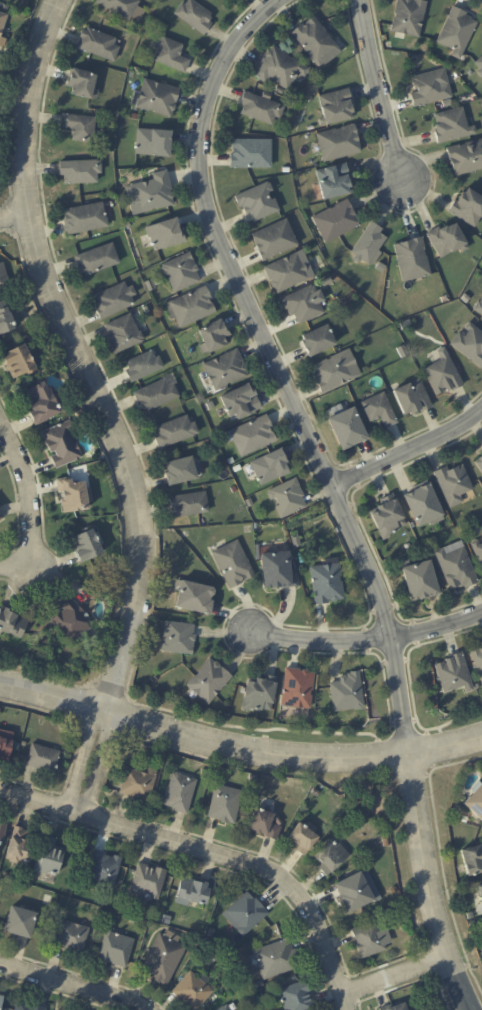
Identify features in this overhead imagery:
building: (120, 7)
building: (195, 17)
building: (410, 17)
building: (2, 22)
building: (458, 33)
building: (317, 44)
building: (98, 45)
building: (172, 56)
building: (311, 63)
building: (480, 64)
building: (280, 70)
building: (481, 74)
building: (83, 86)
building: (430, 89)
road: (383, 90)
building: (280, 91)
building: (156, 99)
building: (447, 104)
building: (336, 108)
building: (261, 110)
building: (135, 117)
building: (452, 126)
building: (80, 128)
building: (154, 144)
building: (340, 144)
building: (252, 155)
building: (466, 159)
building: (286, 171)
building: (80, 172)
building: (334, 183)
building: (151, 195)
building: (258, 203)
building: (468, 209)
road: (13, 217)
building: (85, 220)
building: (336, 222)
building: (127, 226)
building: (166, 236)
building: (275, 241)
building: (447, 241)
building: (369, 246)
building: (471, 260)
building: (97, 261)
building: (412, 261)
building: (380, 268)
building: (182, 273)
building: (288, 274)
building: (4, 278)
building: (327, 283)
building: (150, 285)
building: (444, 300)
building: (466, 300)
building: (114, 302)
building: (305, 306)
building: (478, 308)
building: (189, 309)
building: (146, 310)
building: (5, 321)
building: (407, 327)
building: (124, 335)
building: (215, 339)
building: (318, 343)
building: (470, 345)
building: (403, 352)
road: (82, 354)
building: (18, 364)
road: (276, 367)
building: (144, 368)
building: (226, 372)
building: (336, 373)
building: (443, 377)
building: (157, 396)
building: (190, 397)
building: (413, 399)
building: (241, 403)
building: (42, 406)
building: (380, 412)
building: (349, 432)
building: (175, 433)
building: (254, 437)
building: (62, 446)
building: (211, 447)
building: (481, 448)
road: (409, 451)
building: (231, 463)
building: (479, 464)
building: (271, 468)
building: (238, 470)
building: (181, 473)
building: (453, 486)
building: (234, 490)
building: (72, 496)
building: (288, 500)
building: (250, 504)
building: (190, 506)
building: (425, 509)
road: (31, 512)
building: (0, 518)
building: (389, 519)
building: (0, 520)
building: (256, 527)
building: (481, 536)
building: (296, 541)
building: (88, 546)
building: (408, 547)
building: (478, 552)
building: (232, 567)
building: (458, 570)
building: (277, 572)
building: (422, 584)
building: (327, 585)
building: (195, 599)
building: (71, 622)
building: (13, 625)
building: (178, 639)
road: (367, 640)
building: (478, 662)
building: (454, 676)
building: (209, 684)
building: (296, 691)
building: (244, 693)
building: (348, 694)
building: (260, 697)
building: (48, 739)
building: (5, 750)
road: (238, 750)
road: (81, 758)
building: (43, 759)
road: (98, 761)
building: (253, 779)
building: (139, 785)
building: (316, 793)
building: (180, 794)
building: (475, 802)
building: (225, 804)
building: (278, 821)
building: (264, 825)
building: (2, 831)
building: (304, 840)
building: (384, 843)
building: (0, 845)
building: (15, 849)
road: (205, 851)
building: (331, 857)
building: (49, 858)
building: (473, 861)
building: (104, 869)
building: (2, 874)
building: (0, 882)
building: (147, 884)
road: (427, 886)
building: (393, 891)
building: (479, 891)
building: (193, 892)
building: (354, 893)
building: (476, 913)
building: (390, 914)
building: (246, 915)
building: (167, 920)
building: (134, 922)
building: (21, 924)
building: (386, 926)
building: (212, 934)
building: (72, 937)
building: (370, 940)
building: (116, 950)
building: (164, 958)
building: (274, 961)
road: (395, 979)
road: (73, 985)
building: (258, 986)
building: (194, 991)
building: (297, 998)
building: (1, 1002)
road: (345, 1003)
building: (394, 1007)
building: (22, 1008)
building: (224, 1008)
building: (230, 1008)
building: (39, 1009)

